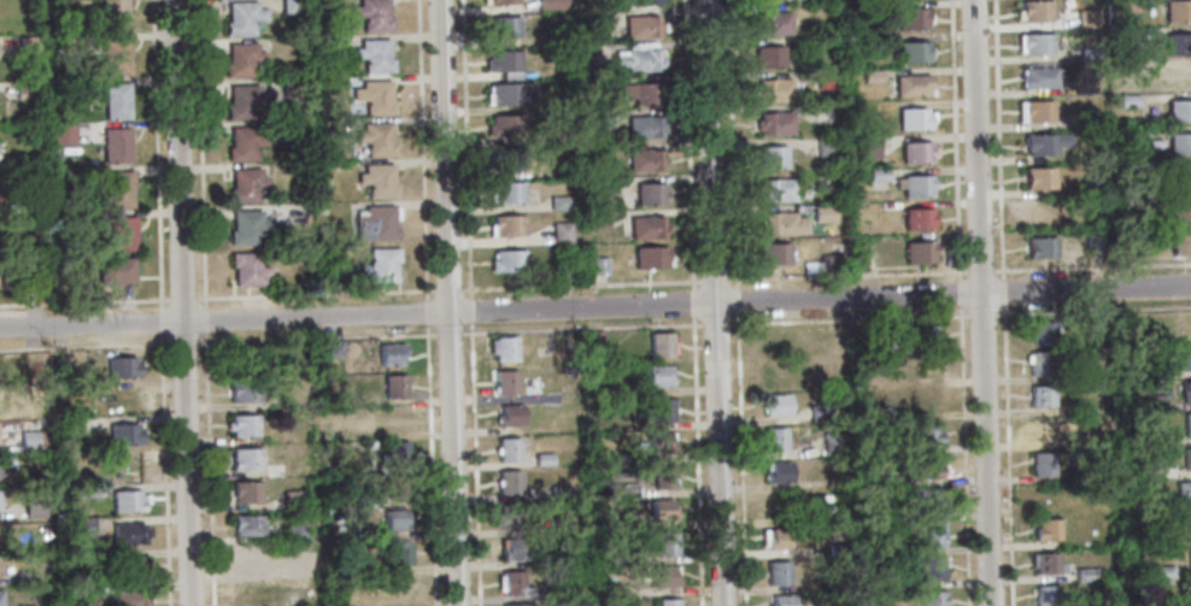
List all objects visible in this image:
building: (77, 1)
building: (639, 1)
building: (778, 1)
building: (318, 2)
building: (503, 2)
building: (551, 5)
building: (292, 6)
building: (1130, 6)
building: (875, 10)
building: (1034, 12)
building: (1178, 12)
building: (115, 14)
building: (374, 14)
building: (242, 17)
building: (1086, 18)
building: (913, 19)
building: (771, 23)
building: (643, 27)
building: (503, 28)
building: (1140, 35)
building: (328, 43)
building: (872, 43)
building: (27, 45)
building: (1034, 45)
building: (71, 46)
building: (641, 46)
building: (1179, 46)
building: (913, 53)
building: (1089, 54)
building: (116, 55)
building: (375, 55)
building: (241, 59)
building: (768, 59)
building: (638, 60)
building: (503, 61)
building: (511, 75)
building: (872, 76)
building: (1039, 77)
building: (825, 78)
building: (1177, 78)
building: (593, 83)
building: (914, 86)
building: (291, 87)
building: (1080, 88)
building: (23, 89)
building: (774, 90)
building: (643, 93)
building: (510, 95)
building: (375, 98)
building: (116, 100)
building: (245, 102)
building: (1128, 102)
building: (1034, 112)
building: (1180, 112)
building: (915, 119)
building: (1080, 119)
building: (598, 120)
building: (774, 123)
building: (505, 127)
building: (645, 127)
building: (292, 130)
building: (332, 130)
building: (65, 133)
building: (1126, 135)
building: (559, 137)
building: (376, 139)
road: (955, 140)
road: (998, 140)
building: (244, 142)
building: (116, 143)
building: (1046, 143)
road: (688, 145)
road: (732, 145)
building: (1180, 145)
building: (1155, 146)
building: (827, 147)
road: (465, 148)
building: (868, 148)
road: (422, 151)
building: (917, 152)
road: (201, 153)
building: (773, 157)
building: (505, 159)
building: (646, 160)
building: (1139, 173)
building: (51, 175)
building: (879, 175)
building: (33, 178)
building: (1039, 180)
building: (1179, 180)
building: (379, 181)
building: (246, 183)
building: (917, 186)
building: (119, 189)
building: (776, 190)
building: (506, 193)
building: (651, 194)
building: (561, 202)
building: (1039, 211)
building: (1181, 212)
building: (825, 214)
building: (597, 219)
building: (919, 220)
building: (376, 223)
building: (782, 224)
building: (246, 226)
building: (508, 226)
building: (647, 228)
building: (562, 231)
building: (123, 233)
building: (1130, 240)
building: (1097, 241)
building: (1181, 245)
building: (1040, 248)
building: (919, 253)
building: (775, 254)
building: (651, 258)
building: (509, 261)
building: (829, 263)
building: (381, 265)
building: (598, 265)
road: (1092, 267)
building: (247, 269)
building: (564, 270)
building: (119, 271)
road: (981, 271)
road: (847, 277)
building: (35, 281)
road: (714, 282)
road: (649, 283)
road: (480, 288)
road: (447, 290)
road: (1003, 293)
road: (597, 294)
road: (960, 294)
road: (316, 295)
road: (692, 298)
road: (184, 299)
road: (84, 301)
road: (160, 302)
road: (182, 302)
road: (448, 302)
road: (715, 302)
road: (737, 302)
road: (981, 302)
road: (470, 305)
road: (595, 308)
road: (1092, 312)
road: (427, 313)
road: (981, 316)
road: (205, 320)
road: (847, 320)
road: (722, 324)
building: (1097, 325)
building: (1184, 328)
building: (1042, 331)
road: (442, 334)
road: (381, 336)
building: (913, 337)
building: (778, 339)
road: (272, 340)
building: (598, 341)
road: (206, 342)
road: (182, 343)
building: (661, 343)
road: (84, 346)
building: (333, 348)
building: (506, 348)
building: (392, 354)
building: (1187, 358)
building: (239, 360)
building: (1040, 364)
building: (122, 367)
building: (925, 370)
building: (774, 372)
building: (661, 375)
building: (508, 383)
building: (394, 387)
building: (1185, 390)
building: (244, 392)
building: (1040, 396)
building: (125, 400)
building: (927, 400)
building: (1156, 404)
building: (776, 405)
building: (662, 408)
building: (820, 413)
building: (510, 414)
building: (391, 419)
building: (242, 425)
building: (1187, 425)
building: (352, 430)
building: (1049, 430)
building: (124, 434)
building: (927, 435)
building: (28, 440)
building: (774, 440)
building: (662, 442)
building: (832, 445)
building: (899, 447)
building: (510, 449)
building: (395, 453)
road: (1008, 455)
road: (964, 457)
building: (245, 458)
building: (1187, 458)
building: (545, 459)
road: (740, 459)
building: (1101, 463)
building: (1042, 464)
road: (430, 466)
building: (927, 467)
road: (207, 470)
building: (274, 470)
building: (778, 472)
building: (664, 475)
building: (886, 482)
building: (510, 483)
building: (835, 483)
building: (398, 487)
building: (86, 490)
building: (246, 492)
building: (1184, 493)
building: (292, 499)
building: (0, 500)
building: (363, 500)
building: (929, 500)
building: (127, 501)
building: (1126, 504)
building: (34, 507)
building: (663, 512)
building: (395, 520)
building: (247, 525)
building: (1184, 525)
building: (82, 526)
building: (1046, 530)
building: (129, 534)
building: (294, 534)
building: (929, 536)
building: (776, 539)
building: (1149, 539)
building: (669, 543)
building: (515, 545)
building: (837, 549)
building: (398, 553)
building: (96, 557)
building: (1190, 558)
building: (245, 559)
building: (1044, 563)
building: (128, 567)
building: (931, 567)
building: (778, 572)
building: (1164, 572)
building: (1085, 573)
building: (668, 576)
building: (25, 578)
building: (514, 582)
building: (612, 590)
building: (248, 592)
building: (1190, 592)
building: (89, 593)
building: (1046, 595)
building: (0, 598)
building: (129, 598)
building: (932, 599)
building: (1155, 600)
building: (781, 601)
building: (669, 602)
building: (1093, 602)
building: (517, 605)

